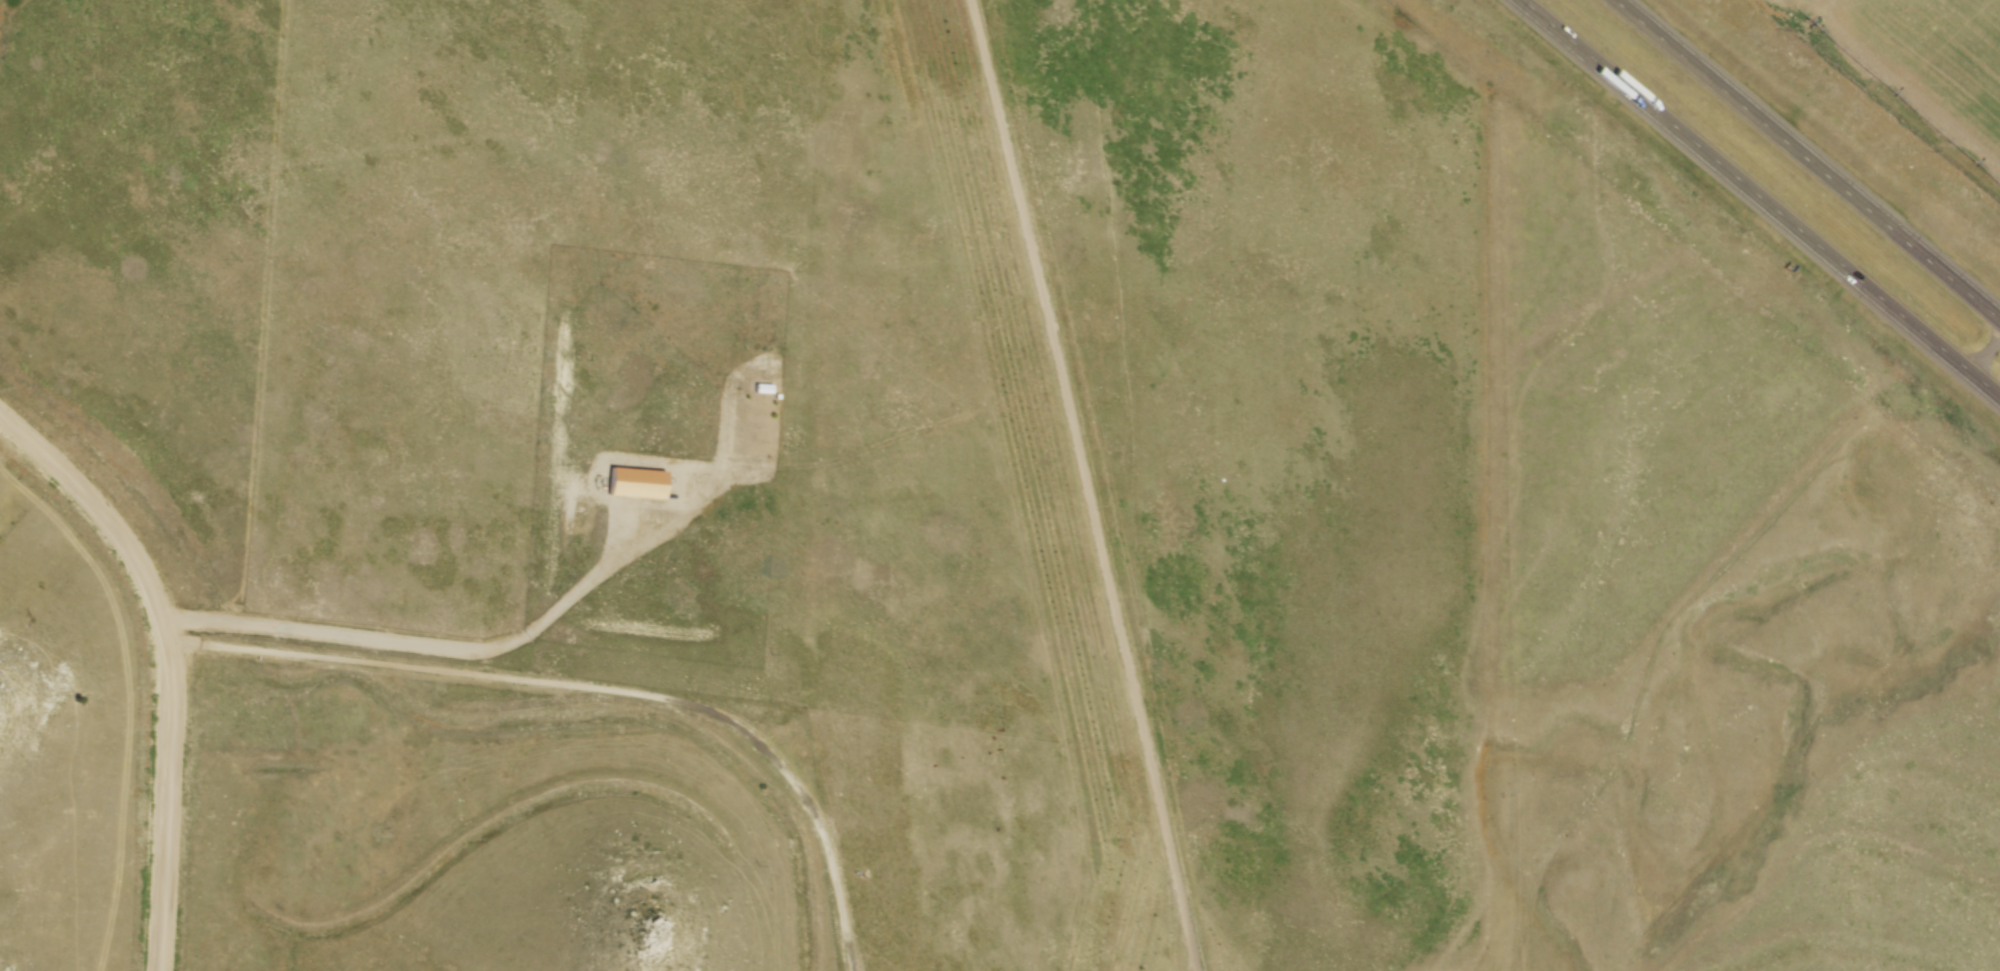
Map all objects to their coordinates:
crop: (1924, 69)
road: (1810, 157)
road: (1762, 196)
building: (758, 391)
road: (1072, 485)
building: (630, 486)
road: (512, 646)
road: (164, 671)
road: (586, 694)

